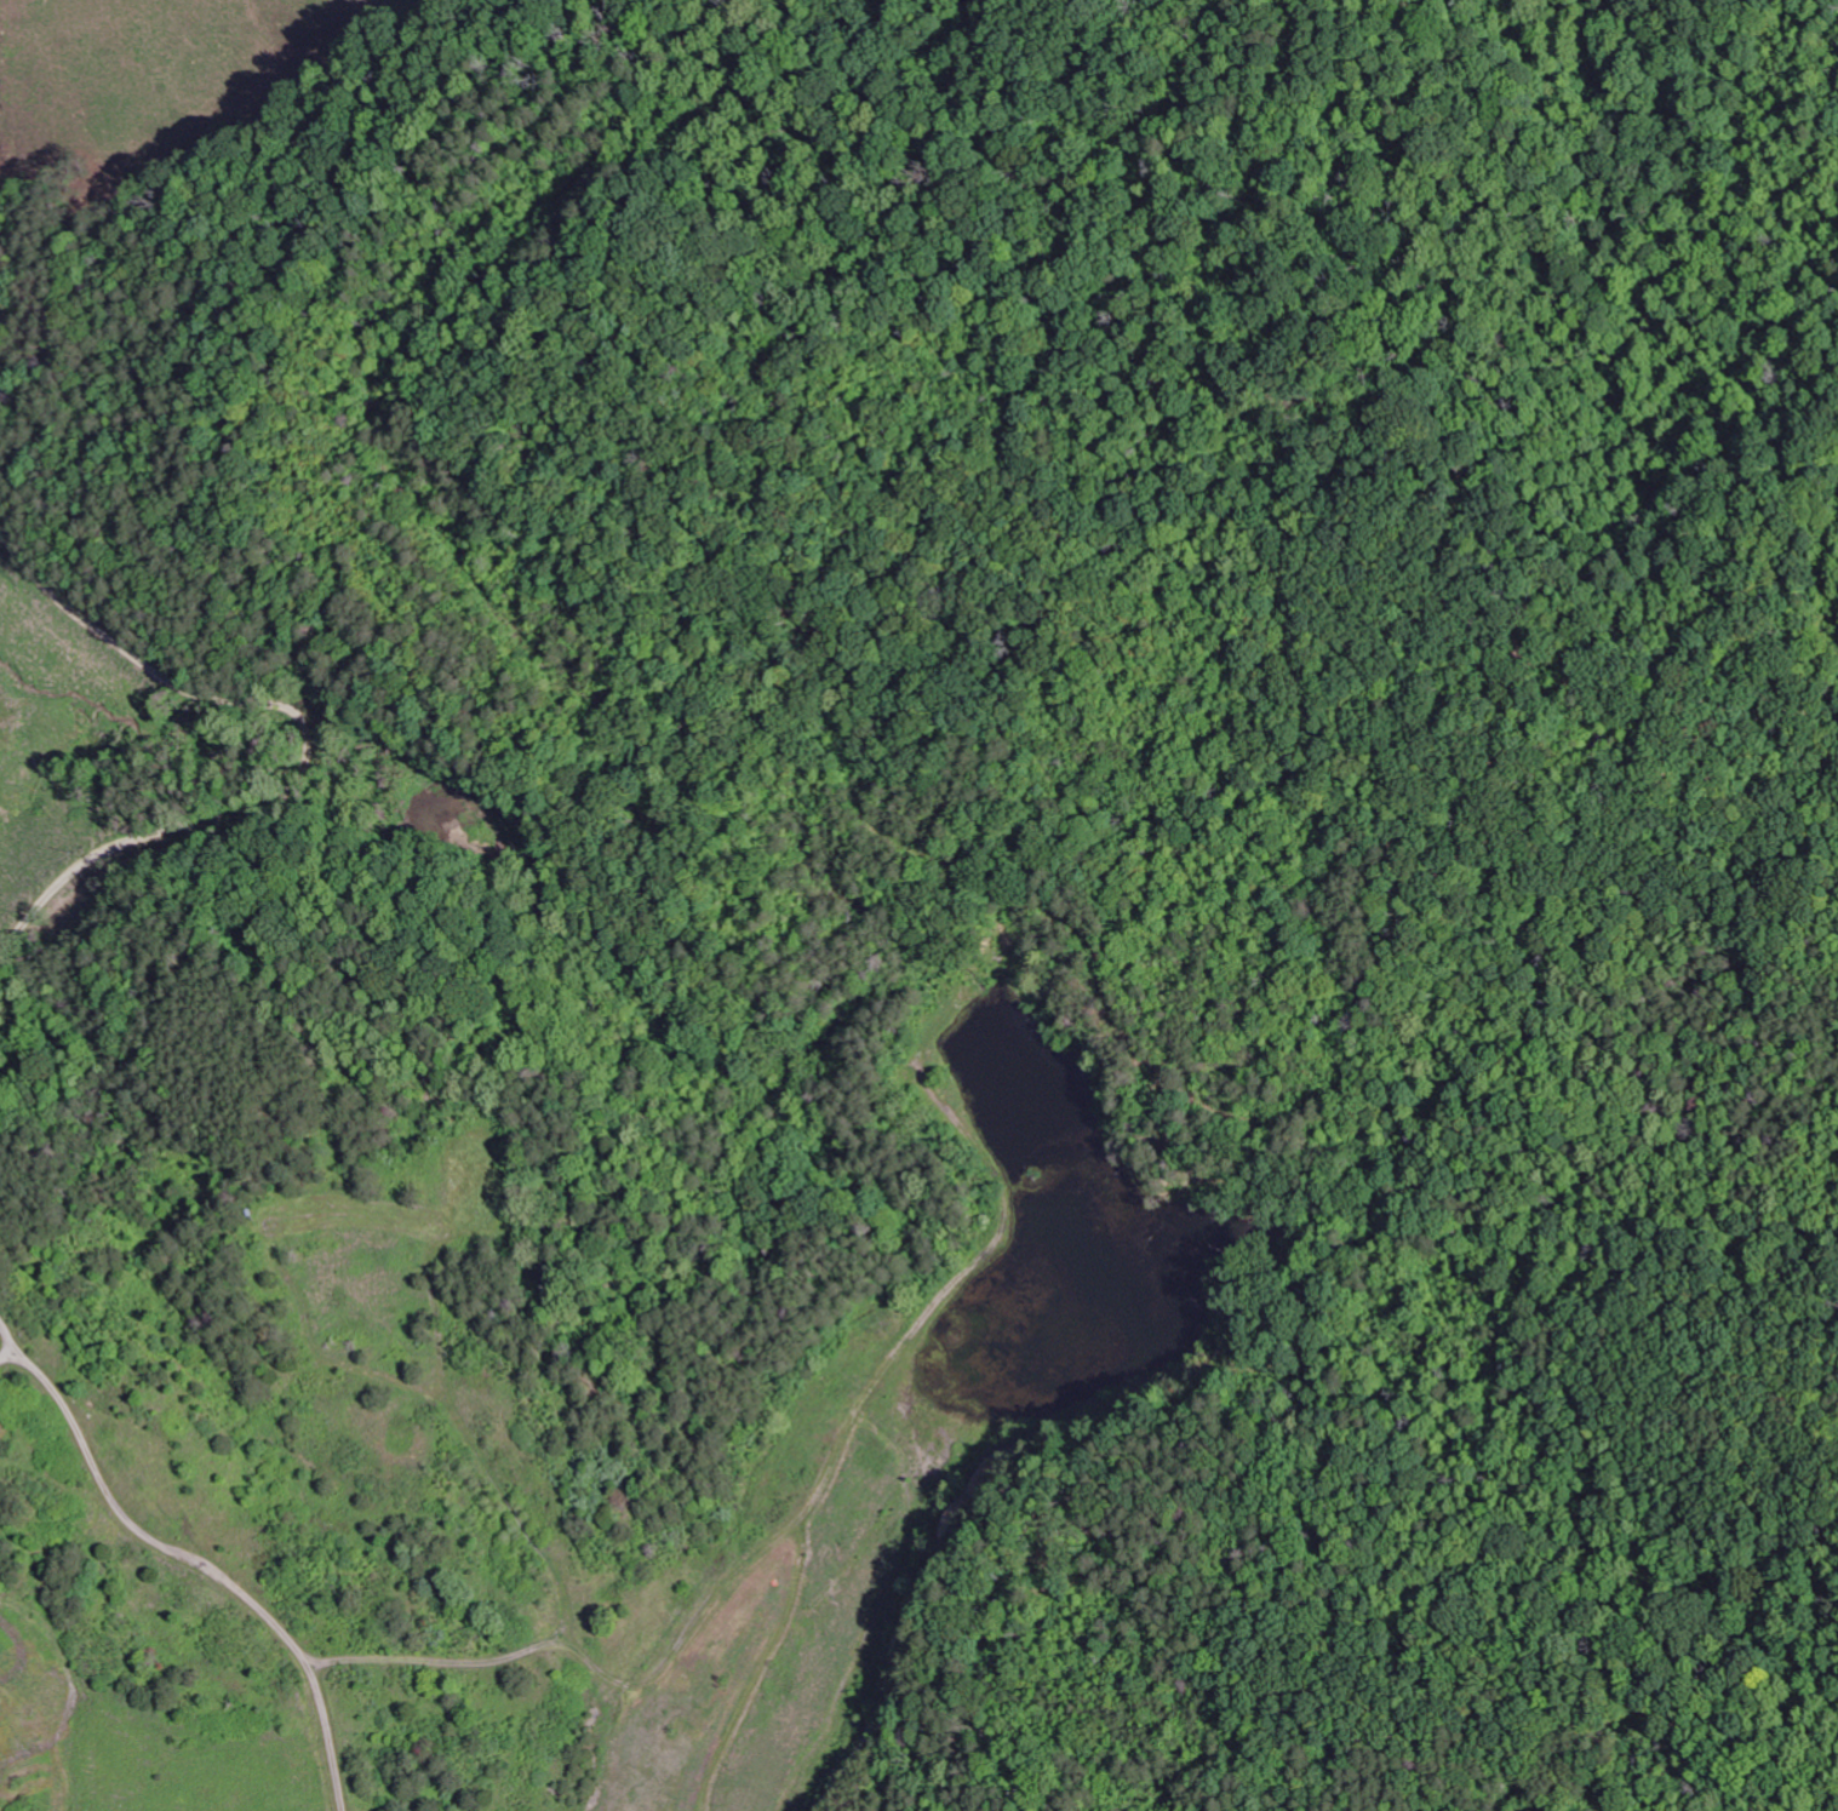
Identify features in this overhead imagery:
road: (828, 1663)
road: (362, 1760)

